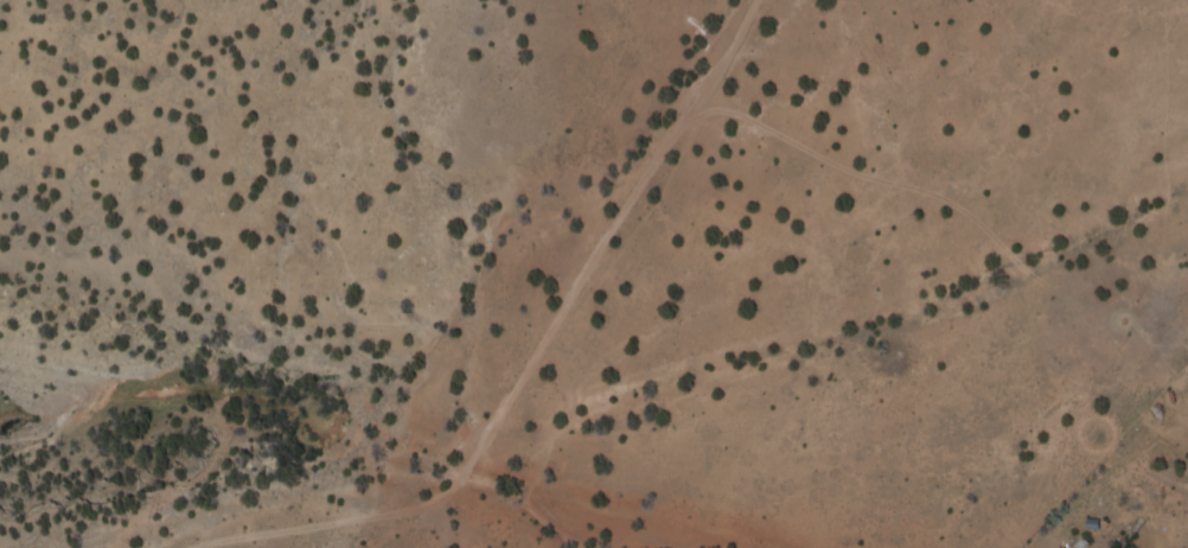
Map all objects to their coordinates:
road: (594, 370)

